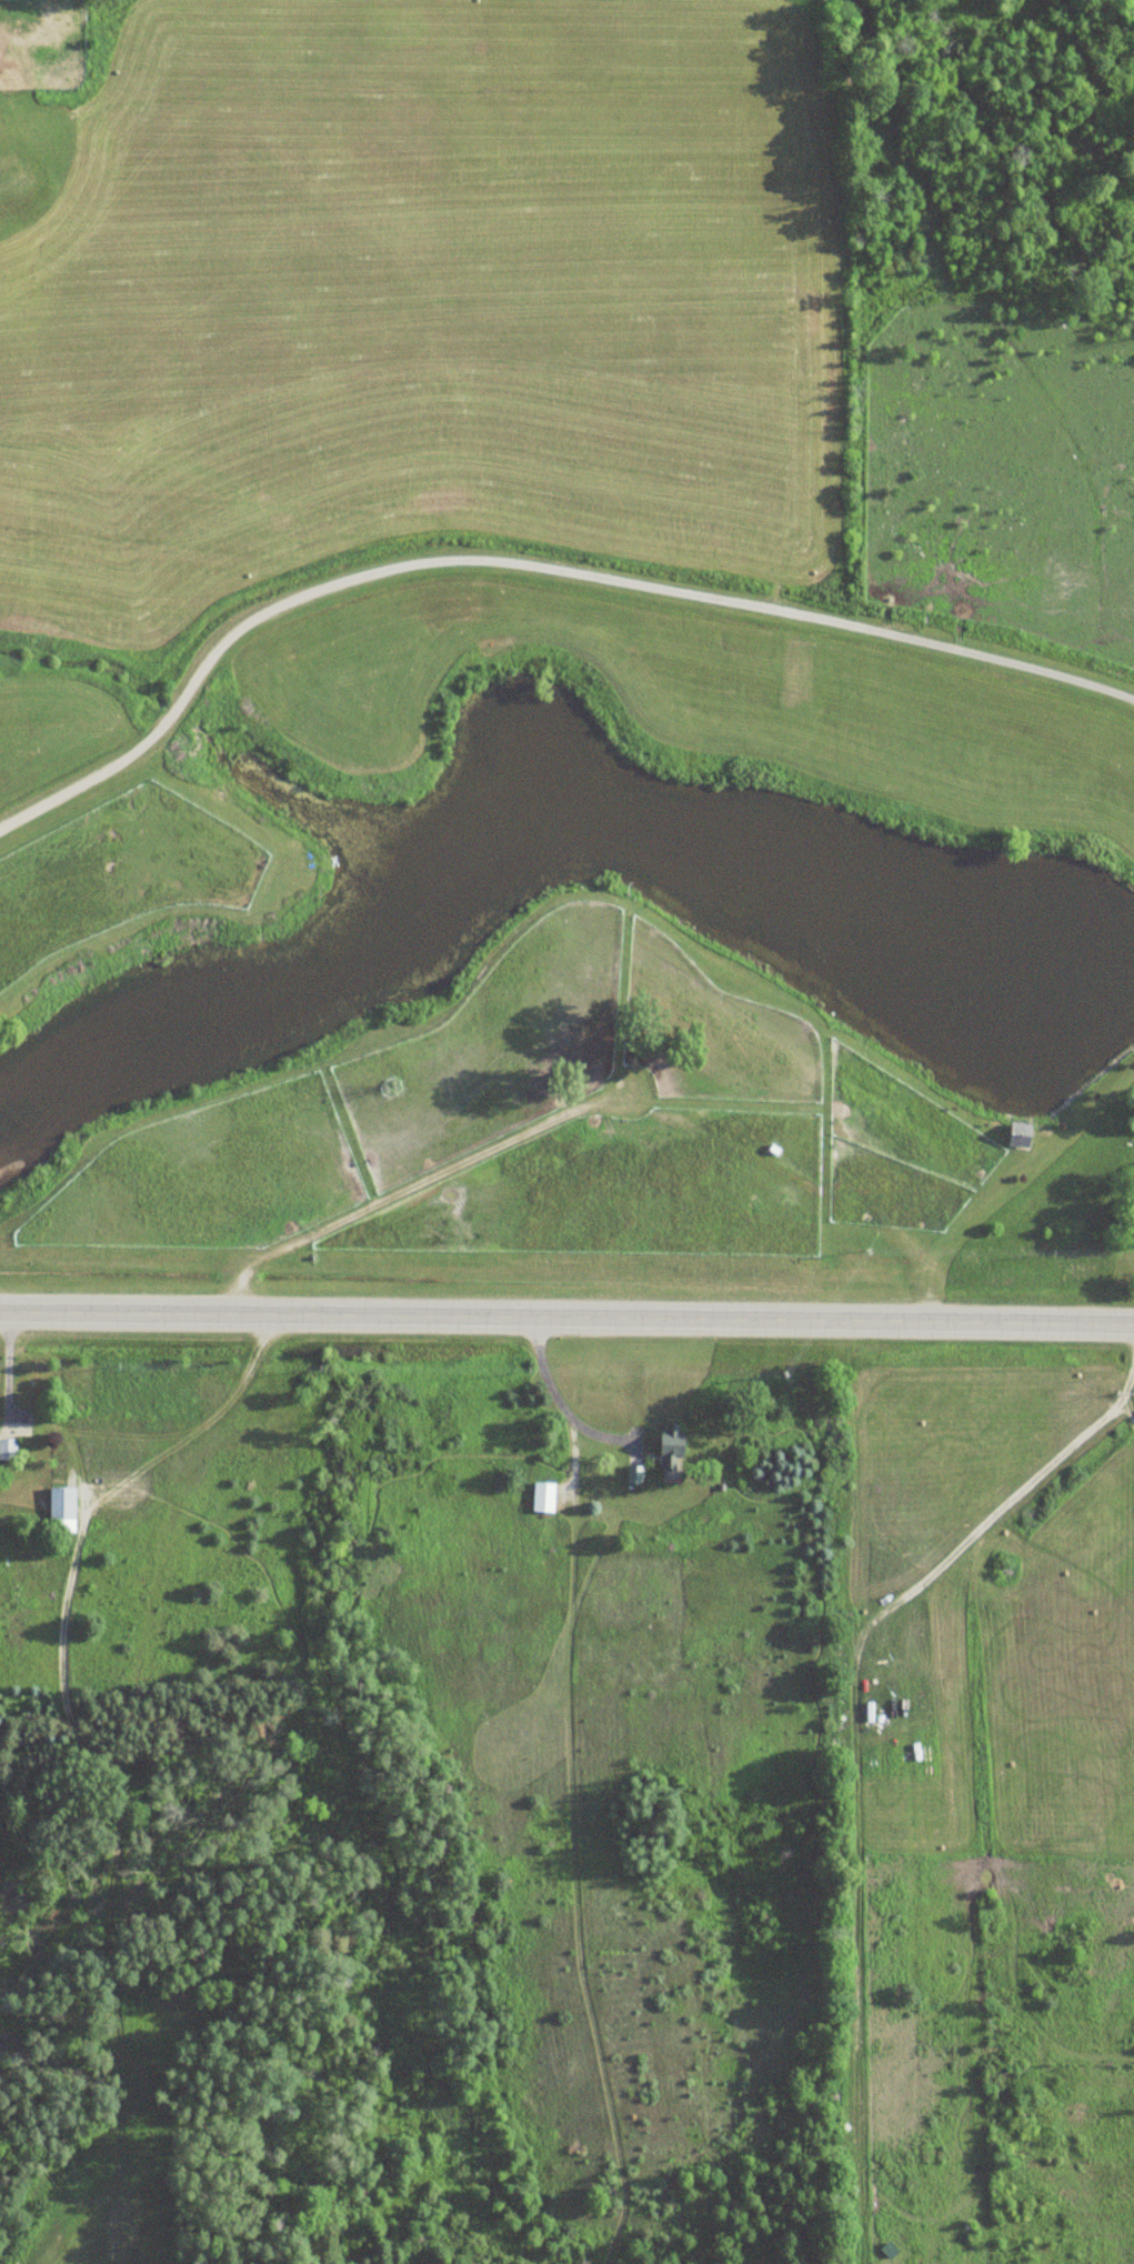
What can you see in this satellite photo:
road: (529, 562)
building: (1016, 1133)
road: (566, 1321)
building: (7, 1450)
building: (683, 1450)
building: (632, 1475)
building: (540, 1497)
building: (59, 1510)

